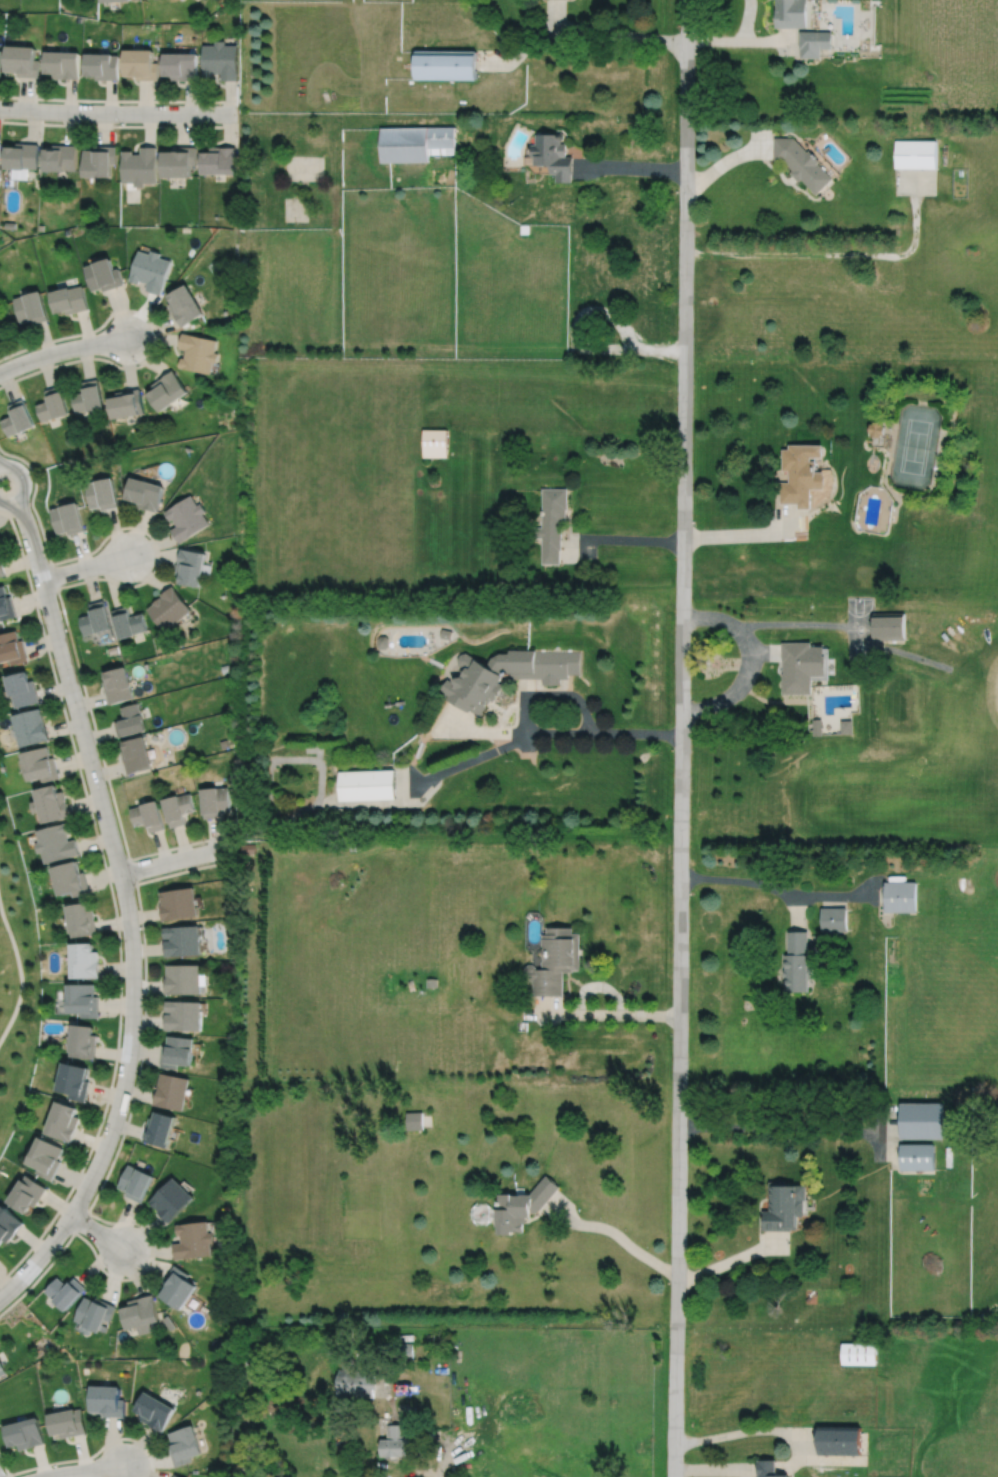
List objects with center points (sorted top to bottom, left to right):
building: (106, 0)
building: (791, 13)
road: (557, 16)
road: (747, 21)
road: (621, 36)
road: (714, 42)
road: (769, 42)
building: (814, 42)
road: (522, 49)
building: (0, 57)
building: (221, 60)
building: (23, 61)
building: (62, 63)
building: (140, 64)
building: (446, 64)
building: (102, 65)
building: (181, 65)
street lamp: (0, 99)
road: (118, 100)
street lamp: (200, 104)
road: (118, 113)
street lamp: (121, 122)
road: (118, 125)
road: (759, 140)
building: (416, 143)
road: (767, 150)
building: (0, 152)
building: (915, 154)
building: (553, 155)
building: (21, 156)
building: (60, 158)
building: (99, 161)
building: (220, 161)
building: (179, 162)
building: (802, 163)
building: (140, 166)
road: (719, 167)
road: (631, 169)
building: (524, 229)
road: (826, 254)
building: (151, 271)
building: (104, 276)
building: (69, 301)
building: (185, 306)
building: (31, 308)
road: (156, 336)
street lamp: (32, 349)
road: (62, 350)
building: (198, 353)
street lamp: (135, 364)
building: (167, 392)
building: (89, 398)
building: (126, 405)
building: (53, 406)
building: (18, 420)
building: (878, 430)
building: (436, 444)
park: (915, 445)
street lamp: (30, 475)
building: (802, 475)
road: (25, 479)
building: (103, 493)
building: (145, 494)
road: (11, 505)
building: (68, 516)
building: (187, 516)
building: (552, 523)
road: (753, 535)
road: (630, 540)
street lamp: (47, 557)
building: (192, 564)
building: (2, 567)
road: (84, 567)
road: (53, 575)
street lamp: (136, 581)
road: (58, 586)
building: (6, 603)
building: (169, 607)
building: (96, 617)
road: (711, 618)
building: (129, 621)
building: (888, 624)
road: (847, 626)
building: (446, 634)
building: (383, 640)
road: (747, 640)
building: (12, 647)
building: (113, 649)
road: (766, 655)
building: (803, 666)
building: (226, 667)
street lamp: (77, 674)
building: (118, 683)
building: (473, 683)
building: (22, 688)
road: (524, 691)
road: (569, 694)
road: (729, 697)
road: (524, 718)
building: (130, 720)
building: (30, 726)
building: (847, 726)
building: (819, 727)
road: (468, 734)
road: (557, 734)
road: (637, 734)
road: (682, 738)
building: (224, 743)
building: (137, 754)
road: (482, 757)
building: (40, 764)
street lamp: (106, 782)
road: (419, 782)
building: (367, 784)
building: (216, 801)
building: (52, 803)
road: (389, 804)
building: (179, 808)
building: (149, 815)
building: (57, 843)
street lamp: (205, 843)
building: (247, 847)
road: (172, 860)
road: (133, 870)
building: (71, 879)
road: (740, 881)
street lamp: (134, 887)
road: (838, 896)
building: (900, 896)
road: (113, 902)
building: (179, 903)
road: (798, 911)
road: (129, 917)
building: (82, 919)
building: (834, 920)
building: (183, 941)
building: (84, 961)
building: (556, 962)
building: (224, 964)
building: (799, 964)
road: (20, 972)
park: (15, 977)
building: (184, 979)
building: (433, 983)
building: (83, 1000)
road: (602, 1015)
building: (184, 1016)
street lamp: (122, 1022)
building: (83, 1043)
building: (178, 1053)
building: (74, 1081)
building: (173, 1092)
building: (63, 1118)
building: (922, 1118)
building: (414, 1119)
road: (782, 1127)
building: (159, 1128)
road: (886, 1131)
street lamp: (119, 1136)
building: (45, 1155)
building: (917, 1155)
road: (110, 1165)
building: (136, 1180)
building: (26, 1192)
building: (172, 1197)
building: (522, 1204)
building: (783, 1205)
road: (80, 1221)
building: (8, 1222)
road: (96, 1230)
street lamp: (69, 1235)
road: (618, 1235)
building: (194, 1238)
road: (731, 1259)
street lamp: (105, 1268)
building: (178, 1286)
building: (64, 1291)
building: (94, 1312)
building: (141, 1313)
building: (387, 1347)
building: (405, 1351)
building: (858, 1352)
building: (2, 1369)
building: (355, 1382)
building: (107, 1400)
building: (154, 1410)
building: (67, 1422)
road: (751, 1431)
building: (24, 1433)
building: (839, 1440)
building: (394, 1441)
building: (184, 1445)
street lamp: (98, 1454)
road: (86, 1456)
road: (833, 1460)
road: (438, 1462)
road: (792, 1466)
road: (745, 1468)
building: (766, 1468)
street lamp: (3, 1469)
road: (705, 1469)
road: (83, 1470)
road: (741, 1473)
road: (8, 1475)
building: (176, 1476)

